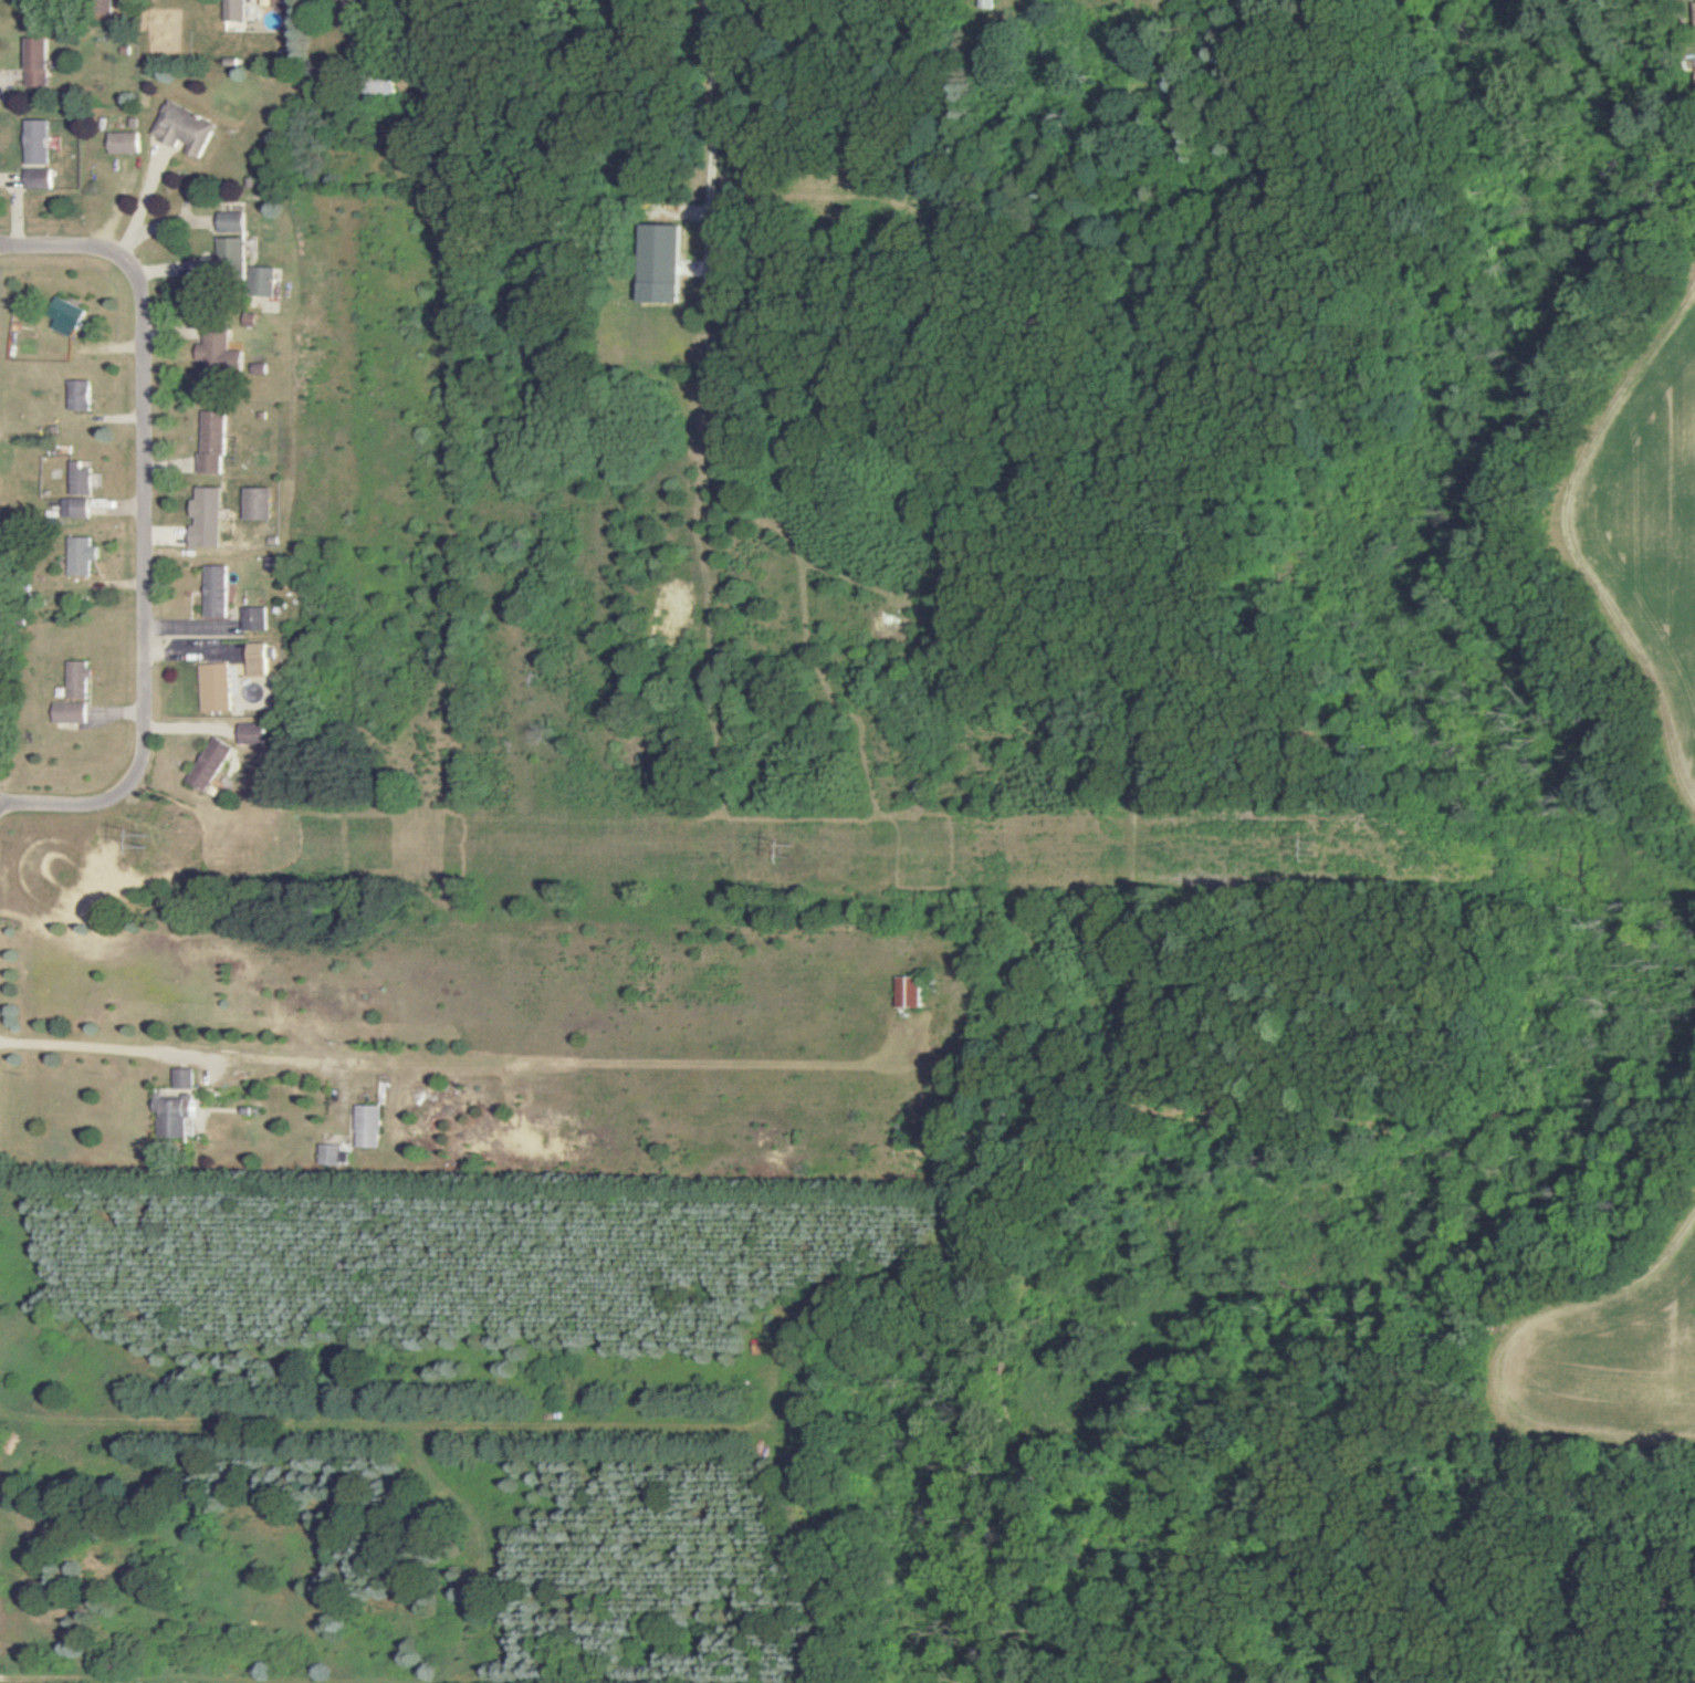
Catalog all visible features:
building: (36, 62)
building: (182, 128)
road: (710, 136)
building: (36, 142)
building: (123, 143)
building: (39, 179)
road: (139, 208)
building: (231, 222)
building: (227, 253)
building: (659, 263)
building: (266, 282)
building: (64, 317)
building: (219, 354)
building: (76, 395)
building: (212, 442)
building: (76, 478)
building: (258, 504)
building: (72, 508)
building: (206, 519)
road: (143, 531)
building: (77, 556)
building: (216, 592)
building: (254, 619)
building: (258, 659)
building: (75, 680)
building: (216, 688)
building: (69, 713)
building: (253, 733)
building: (210, 764)
power tower: (157, 841)
power tower: (795, 853)
power tower: (1318, 858)
building: (909, 992)
road: (90, 1043)
building: (186, 1079)
building: (177, 1116)
building: (368, 1126)
building: (333, 1156)

